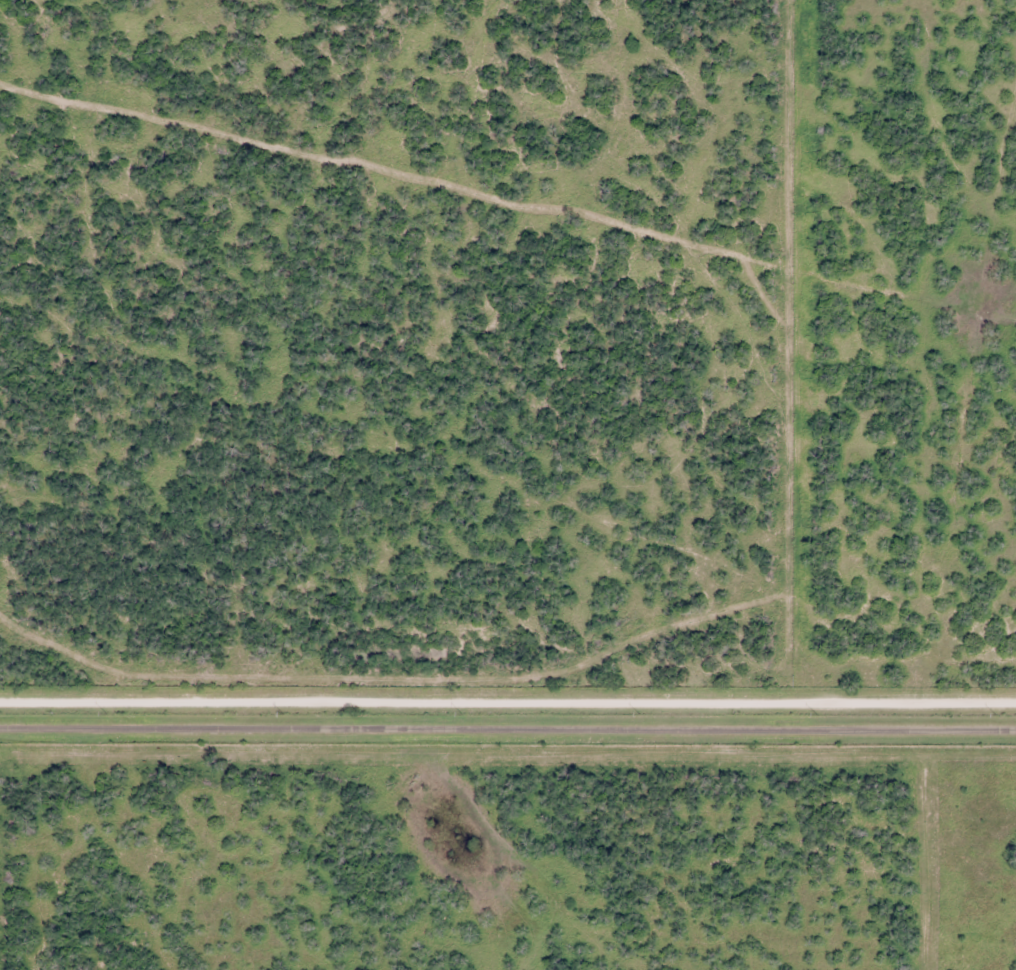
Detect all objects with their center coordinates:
road: (508, 705)
road: (508, 735)

